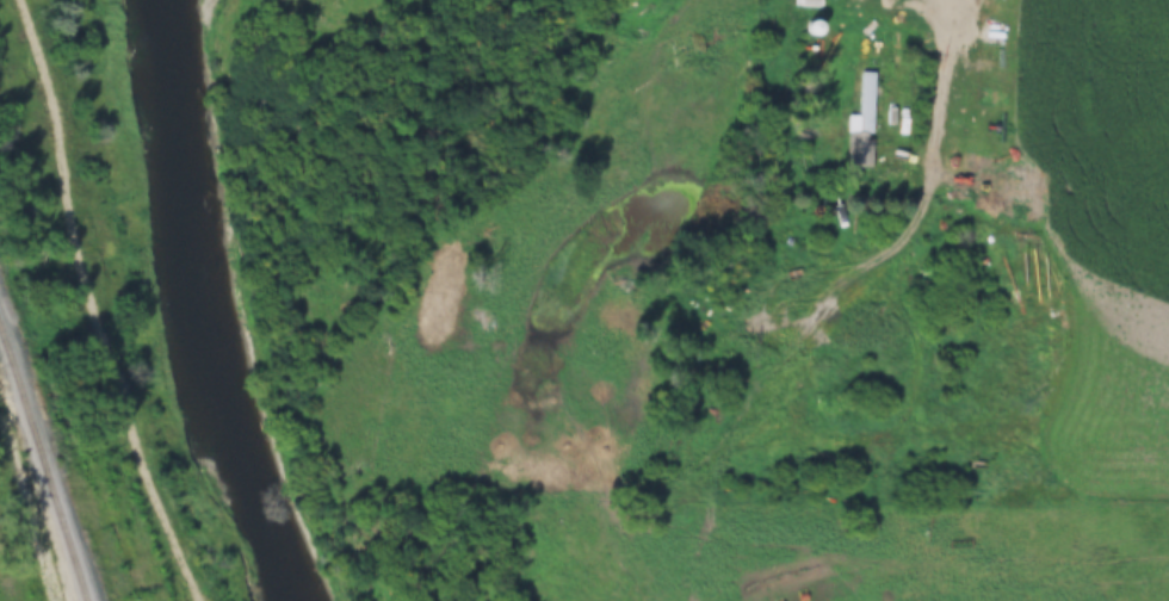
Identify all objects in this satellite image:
road: (934, 123)
building: (862, 124)
road: (80, 303)
river: (203, 306)
road: (910, 405)
railway: (42, 469)

